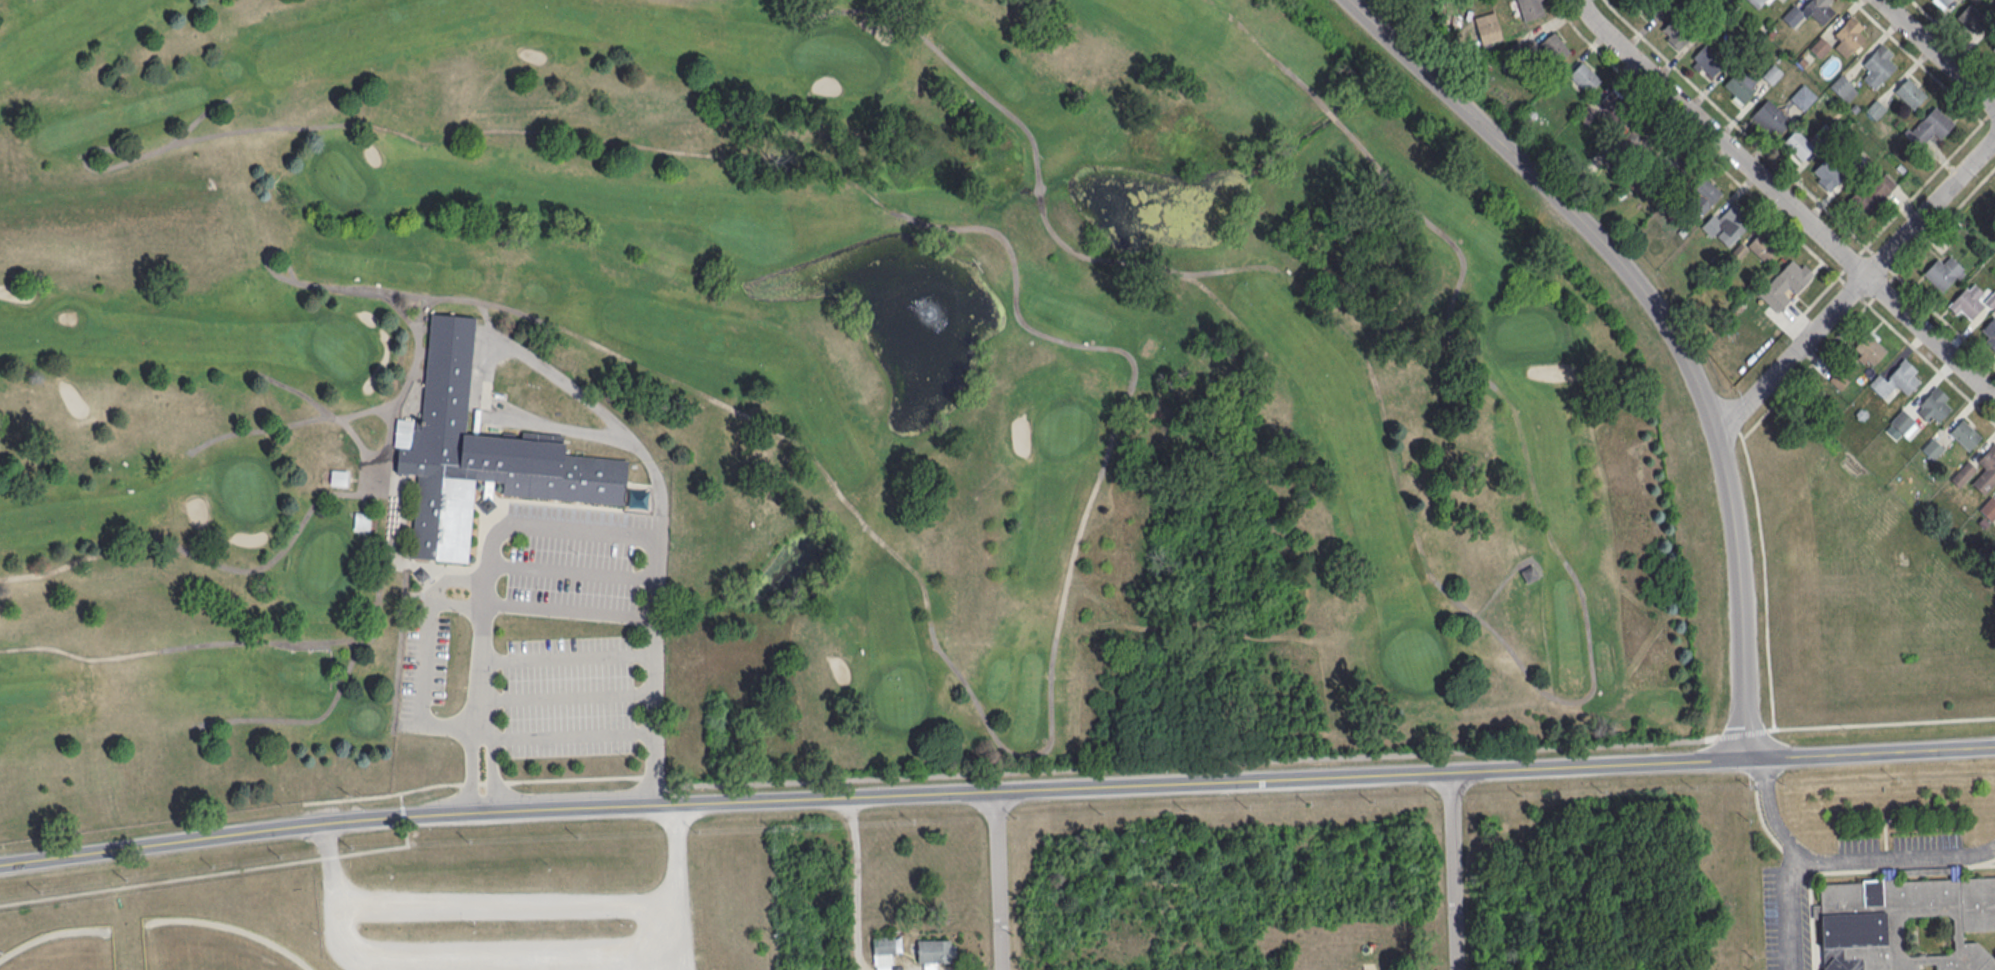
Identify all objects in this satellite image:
building: (1757, 2)
building: (1942, 2)
building: (1648, 5)
building: (1527, 8)
building: (1810, 11)
building: (1974, 16)
building: (1487, 26)
building: (1674, 34)
building: (1850, 35)
road: (1953, 38)
building: (1554, 46)
building: (1819, 46)
road: (1939, 52)
building: (1705, 61)
building: (1878, 65)
building: (1584, 76)
building: (1739, 85)
building: (1842, 87)
building: (1909, 92)
building: (1802, 96)
building: (1614, 104)
building: (1874, 108)
road: (1988, 113)
building: (1770, 117)
road: (1980, 118)
road: (1738, 125)
building: (1931, 125)
road: (1694, 140)
building: (1798, 144)
building: (1656, 146)
building: (1826, 174)
building: (1873, 192)
building: (1698, 198)
road: (1788, 199)
park: (1983, 207)
road: (1945, 219)
building: (1724, 226)
building: (1762, 247)
road: (1881, 259)
road: (1852, 260)
building: (1944, 273)
building: (1786, 283)
road: (1881, 287)
road: (1852, 289)
road: (1855, 289)
road: (1816, 298)
building: (1967, 301)
road: (1945, 319)
road: (1659, 320)
road: (1796, 323)
building: (1990, 333)
building: (1870, 348)
road: (519, 350)
road: (1931, 363)
road: (1805, 370)
building: (1896, 379)
park: (779, 402)
building: (1933, 405)
building: (1903, 422)
building: (1965, 434)
building: (1932, 447)
building: (481, 455)
building: (1986, 470)
building: (1963, 473)
building: (338, 477)
building: (1988, 508)
building: (361, 522)
road: (604, 531)
parking lot: (559, 554)
road: (570, 570)
road: (1764, 571)
building: (1526, 574)
road: (457, 603)
road: (568, 609)
road: (426, 655)
road: (567, 657)
parking lot: (563, 685)
road: (1878, 723)
road: (1740, 732)
road: (568, 734)
road: (481, 737)
road: (1187, 764)
road: (478, 781)
road: (996, 789)
road: (400, 798)
road: (482, 806)
road: (402, 814)
road: (1770, 833)
parking lot: (1900, 844)
road: (383, 848)
road: (329, 856)
road: (1844, 859)
road: (1983, 861)
building: (1843, 866)
road: (1902, 867)
road: (1457, 868)
road: (1001, 879)
road: (160, 880)
road: (857, 883)
park: (421, 902)
road: (504, 905)
road: (1792, 908)
parking lot: (1778, 917)
road: (1813, 922)
parking lot: (508, 929)
building: (883, 949)
building: (935, 949)
park: (206, 950)
park: (67, 953)
road: (513, 962)

